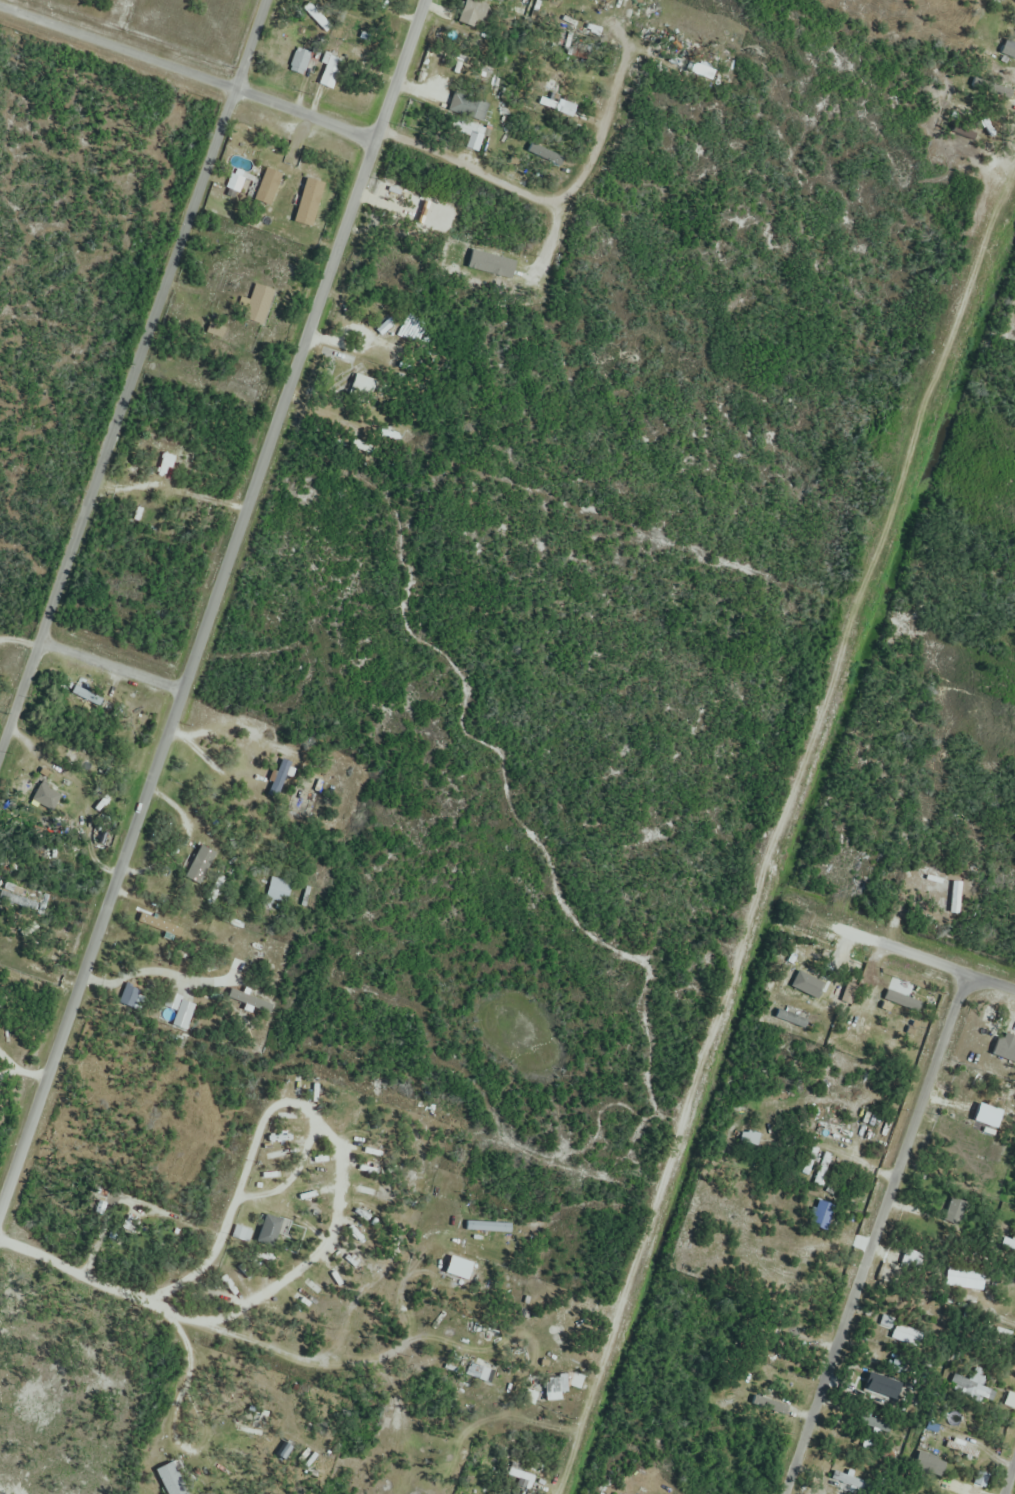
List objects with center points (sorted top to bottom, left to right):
building: (500, 0)
building: (472, 13)
building: (1012, 56)
building: (308, 62)
road: (186, 73)
building: (552, 90)
building: (468, 107)
building: (556, 107)
building: (235, 185)
building: (268, 187)
road: (547, 199)
building: (258, 305)
road: (133, 378)
building: (345, 428)
building: (169, 461)
road: (213, 608)
road: (831, 658)
road: (112, 669)
building: (280, 780)
building: (45, 798)
building: (41, 846)
building: (201, 866)
building: (929, 882)
building: (279, 891)
building: (160, 926)
road: (951, 969)
building: (795, 988)
building: (791, 1018)
building: (908, 1028)
building: (986, 1114)
building: (749, 1139)
road: (291, 1175)
building: (1007, 1184)
building: (952, 1208)
building: (1005, 1212)
road: (226, 1216)
building: (269, 1231)
road: (871, 1233)
road: (326, 1238)
building: (1007, 1243)
building: (912, 1257)
building: (960, 1274)
road: (90, 1277)
road: (607, 1333)
building: (871, 1358)
building: (487, 1375)
building: (960, 1380)
building: (553, 1389)
building: (1008, 1394)
building: (957, 1448)
building: (921, 1457)
building: (520, 1476)
building: (975, 1476)
road: (1008, 1476)
building: (170, 1480)
building: (945, 1482)
building: (848, 1483)

